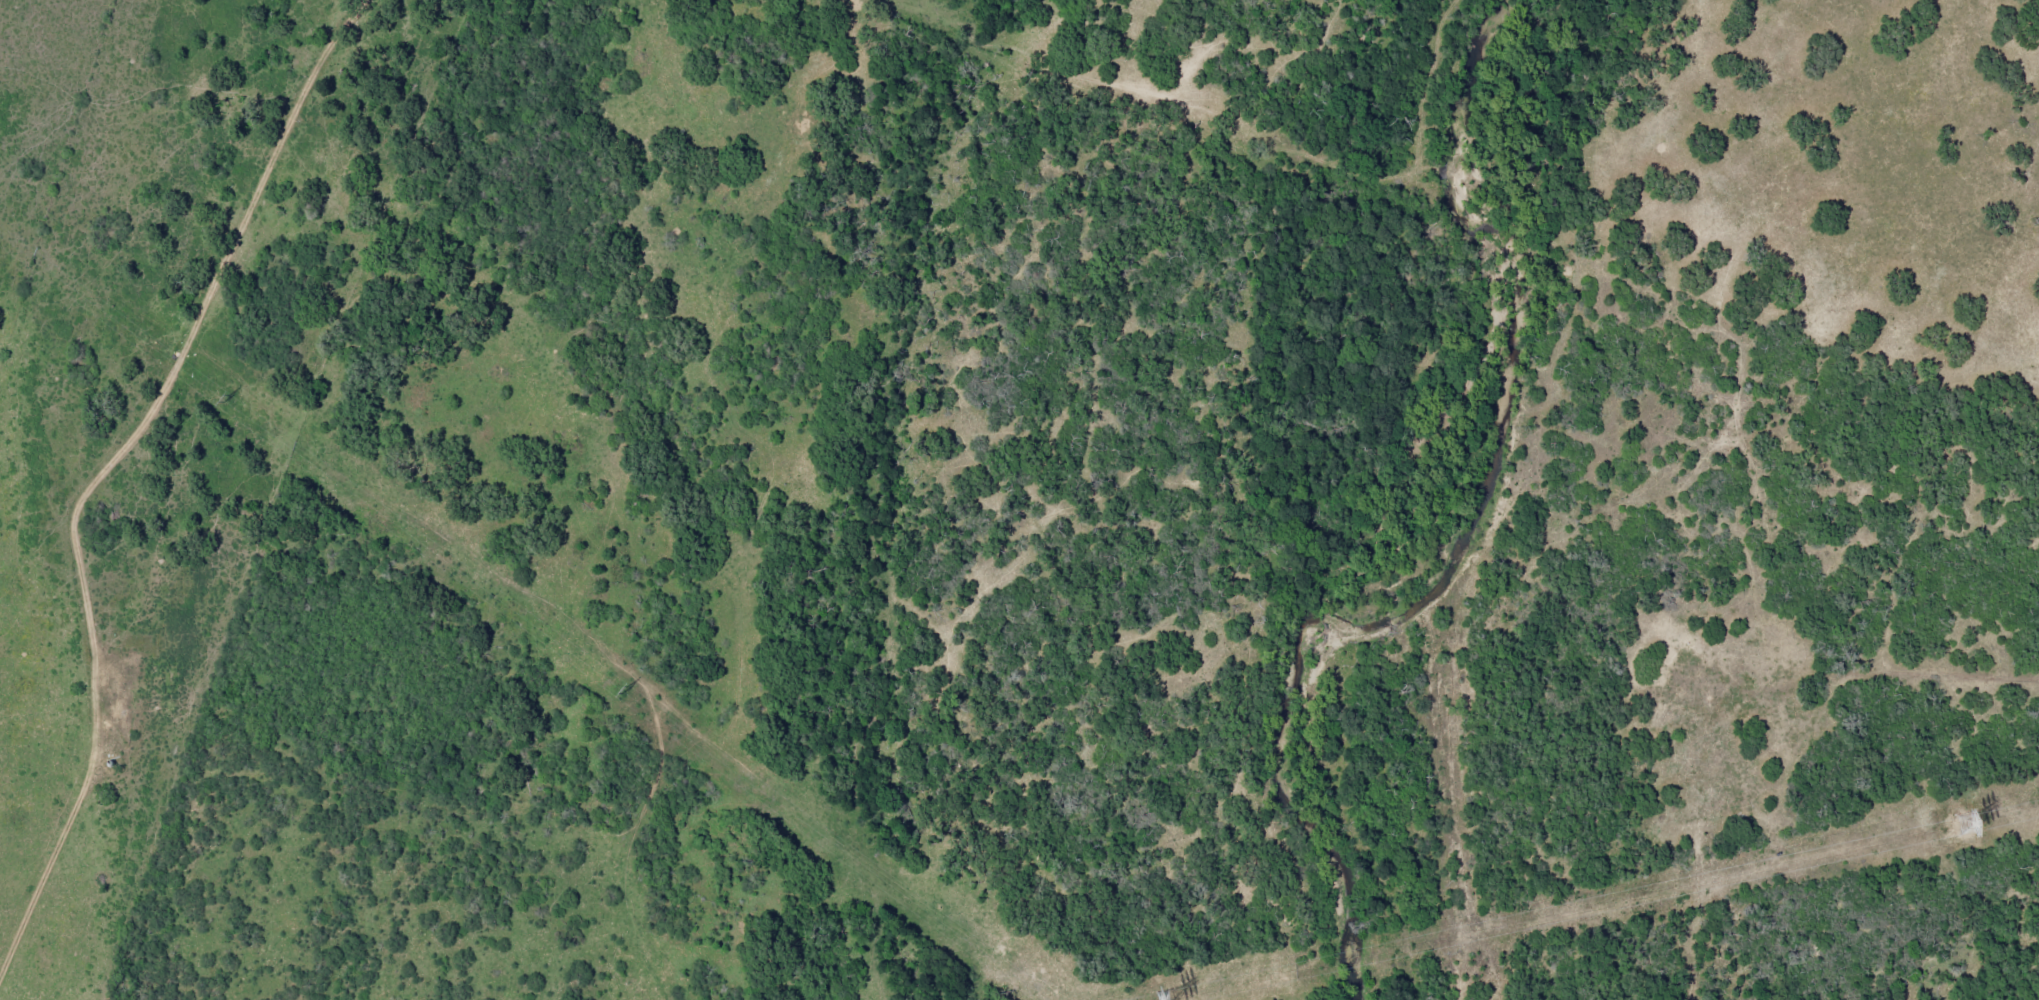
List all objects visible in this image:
power tower: (223, 400)
power tower: (621, 692)
power tower: (1964, 823)

